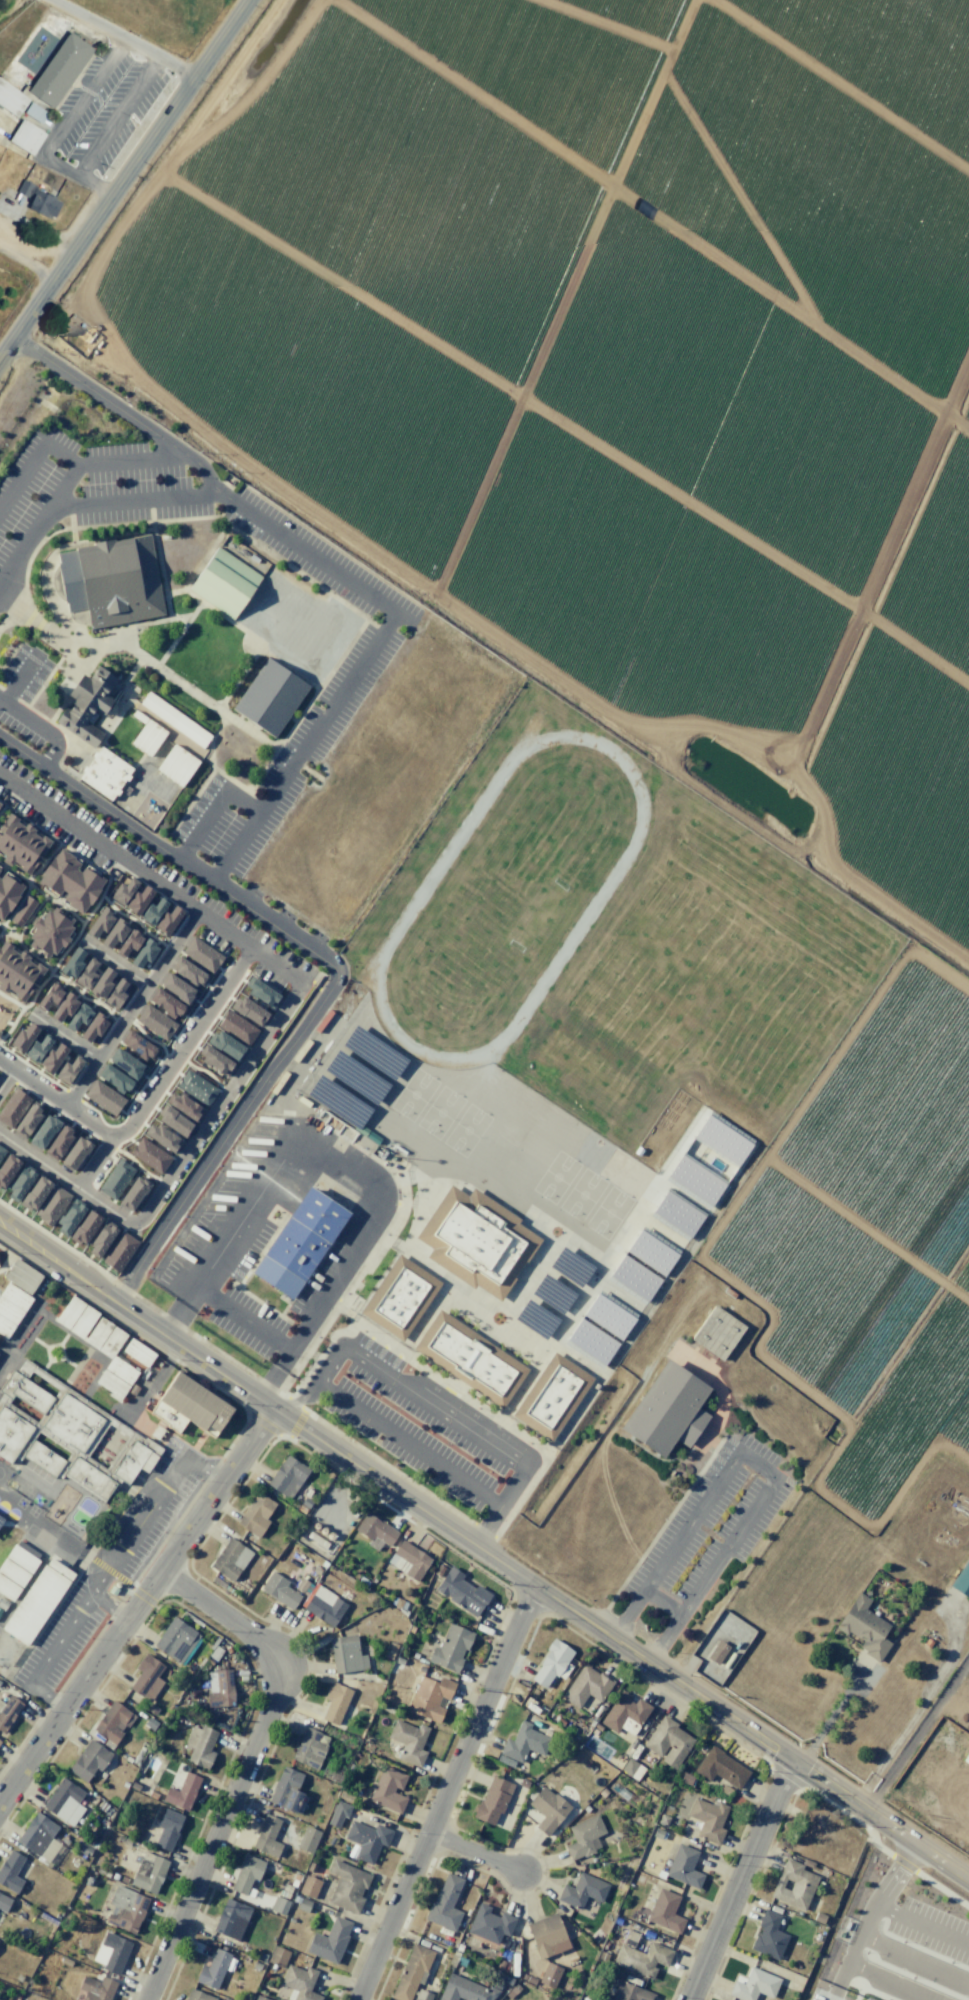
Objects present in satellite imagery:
road: (125, 39)
building: (62, 70)
building: (15, 98)
road: (72, 110)
building: (36, 113)
road: (117, 115)
building: (28, 137)
road: (125, 182)
road: (96, 186)
building: (40, 200)
crop: (640, 460)
road: (75, 463)
road: (211, 483)
road: (58, 494)
road: (126, 500)
road: (19, 552)
building: (111, 582)
building: (224, 583)
road: (20, 676)
building: (270, 697)
building: (88, 703)
building: (174, 719)
road: (42, 728)
building: (147, 735)
road: (303, 748)
building: (177, 765)
building: (103, 775)
road: (2, 807)
road: (214, 809)
building: (19, 843)
road: (60, 843)
building: (0, 867)
road: (33, 873)
building: (70, 880)
road: (106, 883)
building: (123, 891)
building: (8, 893)
track: (507, 897)
building: (138, 900)
road: (54, 901)
road: (97, 901)
road: (15, 907)
building: (23, 911)
building: (153, 911)
building: (167, 920)
building: (99, 923)
road: (178, 926)
road: (2, 930)
building: (49, 932)
building: (114, 933)
road: (10, 935)
road: (18, 937)
building: (129, 942)
building: (144, 953)
building: (201, 954)
road: (156, 958)
building: (72, 962)
road: (113, 963)
road: (239, 965)
road: (333, 967)
building: (16, 971)
building: (188, 972)
road: (317, 972)
building: (86, 973)
road: (231, 975)
road: (67, 981)
road: (141, 982)
building: (101, 983)
building: (177, 988)
building: (116, 993)
building: (261, 993)
building: (49, 996)
road: (11, 1000)
building: (165, 1002)
building: (63, 1007)
road: (131, 1008)
building: (249, 1010)
park: (7, 1014)
road: (215, 1015)
building: (79, 1016)
road: (116, 1018)
road: (123, 1021)
building: (155, 1022)
road: (12, 1024)
building: (93, 1026)
building: (236, 1027)
building: (23, 1037)
road: (65, 1037)
road: (149, 1039)
building: (137, 1045)
building: (226, 1045)
building: (38, 1048)
building: (373, 1052)
road: (92, 1053)
building: (53, 1058)
road: (160, 1059)
building: (215, 1060)
building: (126, 1064)
building: (68, 1069)
road: (200, 1069)
building: (353, 1076)
road: (5, 1077)
road: (8, 1077)
road: (47, 1078)
building: (115, 1079)
building: (196, 1088)
road: (68, 1093)
building: (103, 1097)
road: (77, 1099)
building: (337, 1101)
building: (185, 1106)
building: (12, 1107)
road: (58, 1111)
building: (27, 1120)
building: (174, 1121)
road: (138, 1127)
building: (44, 1130)
road: (215, 1134)
building: (163, 1138)
building: (722, 1140)
building: (59, 1141)
road: (106, 1143)
road: (191, 1143)
building: (1, 1151)
building: (75, 1153)
building: (150, 1155)
road: (94, 1162)
road: (340, 1162)
road: (138, 1166)
building: (7, 1169)
building: (115, 1179)
building: (695, 1179)
building: (20, 1182)
building: (134, 1191)
building: (35, 1194)
building: (52, 1205)
building: (676, 1213)
building: (70, 1216)
building: (85, 1227)
building: (102, 1238)
building: (475, 1240)
road: (58, 1241)
building: (299, 1243)
building: (119, 1251)
building: (651, 1252)
building: (571, 1266)
building: (21, 1276)
building: (634, 1277)
building: (552, 1292)
building: (15, 1296)
building: (398, 1297)
building: (9, 1311)
building: (69, 1312)
building: (608, 1316)
building: (535, 1318)
building: (82, 1321)
building: (5, 1327)
building: (98, 1332)
building: (717, 1332)
building: (591, 1340)
building: (111, 1342)
building: (137, 1352)
building: (470, 1358)
building: (121, 1370)
road: (315, 1381)
building: (111, 1384)
building: (552, 1396)
building: (194, 1404)
road: (433, 1404)
building: (667, 1410)
building: (167, 1417)
parking lot: (417, 1422)
building: (156, 1432)
building: (67, 1434)
road: (408, 1441)
road: (756, 1465)
building: (287, 1477)
road: (512, 1484)
building: (306, 1500)
building: (255, 1514)
building: (1, 1519)
parking lot: (709, 1522)
road: (487, 1523)
building: (375, 1531)
road: (484, 1551)
building: (22, 1556)
building: (230, 1559)
building: (408, 1560)
building: (59, 1569)
building: (316, 1570)
building: (438, 1570)
road: (106, 1571)
building: (12, 1572)
building: (961, 1580)
building: (302, 1585)
building: (8, 1588)
building: (279, 1590)
building: (461, 1592)
building: (2, 1603)
building: (34, 1604)
road: (110, 1605)
road: (136, 1605)
building: (323, 1605)
building: (0, 1610)
building: (864, 1627)
building: (176, 1639)
parking lot: (57, 1644)
building: (450, 1649)
building: (390, 1650)
building: (717, 1652)
building: (346, 1654)
building: (400, 1661)
building: (551, 1662)
building: (148, 1677)
building: (586, 1686)
building: (219, 1688)
building: (429, 1697)
building: (335, 1702)
building: (8, 1711)
building: (625, 1714)
building: (113, 1722)
building: (408, 1741)
building: (668, 1741)
building: (524, 1742)
building: (201, 1747)
building: (309, 1748)
building: (89, 1759)
building: (505, 1761)
road: (246, 1765)
building: (720, 1767)
crop: (935, 1767)
building: (632, 1768)
building: (336, 1777)
building: (523, 1783)
building: (286, 1789)
building: (388, 1789)
building: (182, 1792)
road: (445, 1792)
building: (492, 1800)
building: (64, 1802)
building: (548, 1810)
building: (338, 1813)
building: (709, 1817)
building: (168, 1829)
building: (267, 1835)
building: (39, 1836)
building: (583, 1836)
building: (307, 1839)
building: (367, 1839)
road: (474, 1852)
building: (807, 1863)
building: (684, 1865)
building: (311, 1867)
building: (11, 1871)
building: (148, 1872)
building: (246, 1873)
road: (738, 1879)
building: (793, 1885)
building: (309, 1886)
building: (347, 1886)
building: (582, 1891)
building: (283, 1894)
building: (4, 1902)
building: (445, 1904)
building: (279, 1905)
building: (303, 1905)
building: (126, 1909)
building: (665, 1911)
road: (869, 1915)
building: (819, 1917)
building: (231, 1919)
building: (489, 1924)
road: (922, 1924)
building: (544, 1933)
building: (769, 1935)
building: (596, 1936)
building: (329, 1940)
building: (112, 1952)
building: (277, 1956)
building: (642, 1958)
road: (915, 1960)
building: (213, 1969)
building: (411, 1971)
building: (549, 1975)
building: (528, 1978)
building: (300, 1982)
road: (891, 1982)
building: (753, 1985)
building: (97, 1988)
building: (467, 1990)
building: (630, 1992)
building: (197, 1995)
building: (422, 1995)
building: (259, 1998)
building: (862, 1999)
building: (868, 1999)

